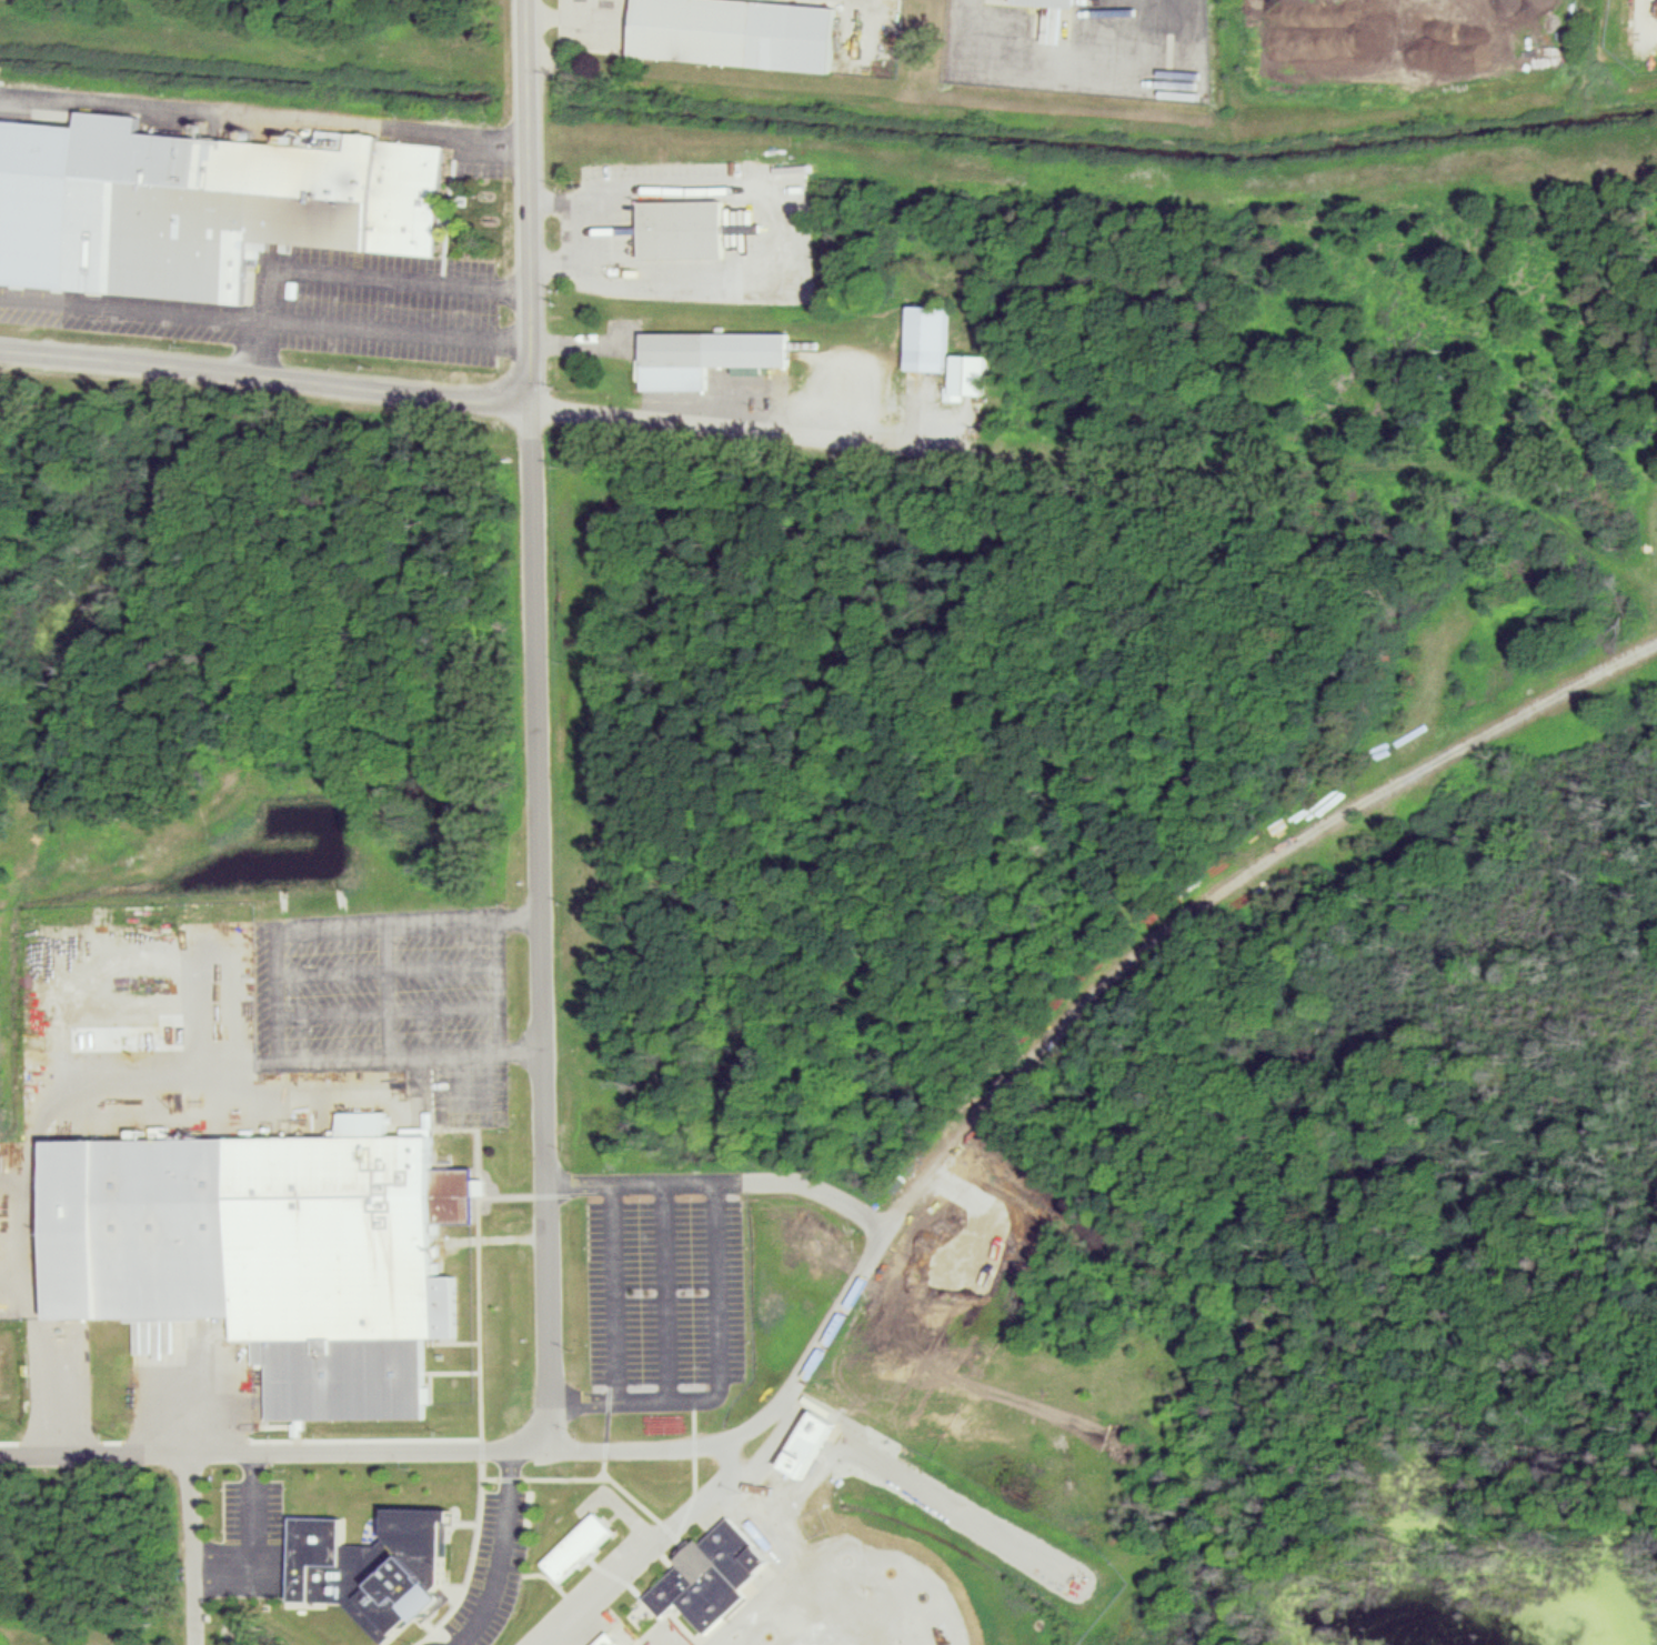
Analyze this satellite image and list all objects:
building: (1068, 1)
road: (561, 16)
building: (741, 32)
road: (1071, 62)
road: (264, 116)
building: (195, 201)
road: (775, 222)
building: (683, 227)
road: (584, 229)
road: (345, 273)
road: (264, 315)
building: (927, 334)
road: (578, 342)
building: (704, 352)
building: (971, 371)
road: (479, 401)
road: (536, 723)
road: (1227, 882)
road: (343, 923)
road: (385, 967)
road: (493, 986)
road: (383, 990)
road: (385, 1009)
road: (410, 1056)
road: (469, 1086)
road: (29, 1154)
road: (720, 1181)
building: (263, 1248)
road: (611, 1291)
road: (660, 1291)
road: (815, 1345)
road: (714, 1370)
building: (814, 1440)
road: (358, 1445)
road: (93, 1447)
road: (250, 1536)
building: (579, 1544)
road: (646, 1549)
road: (498, 1551)
building: (378, 1563)
building: (712, 1574)
building: (612, 1638)
road: (429, 1644)

